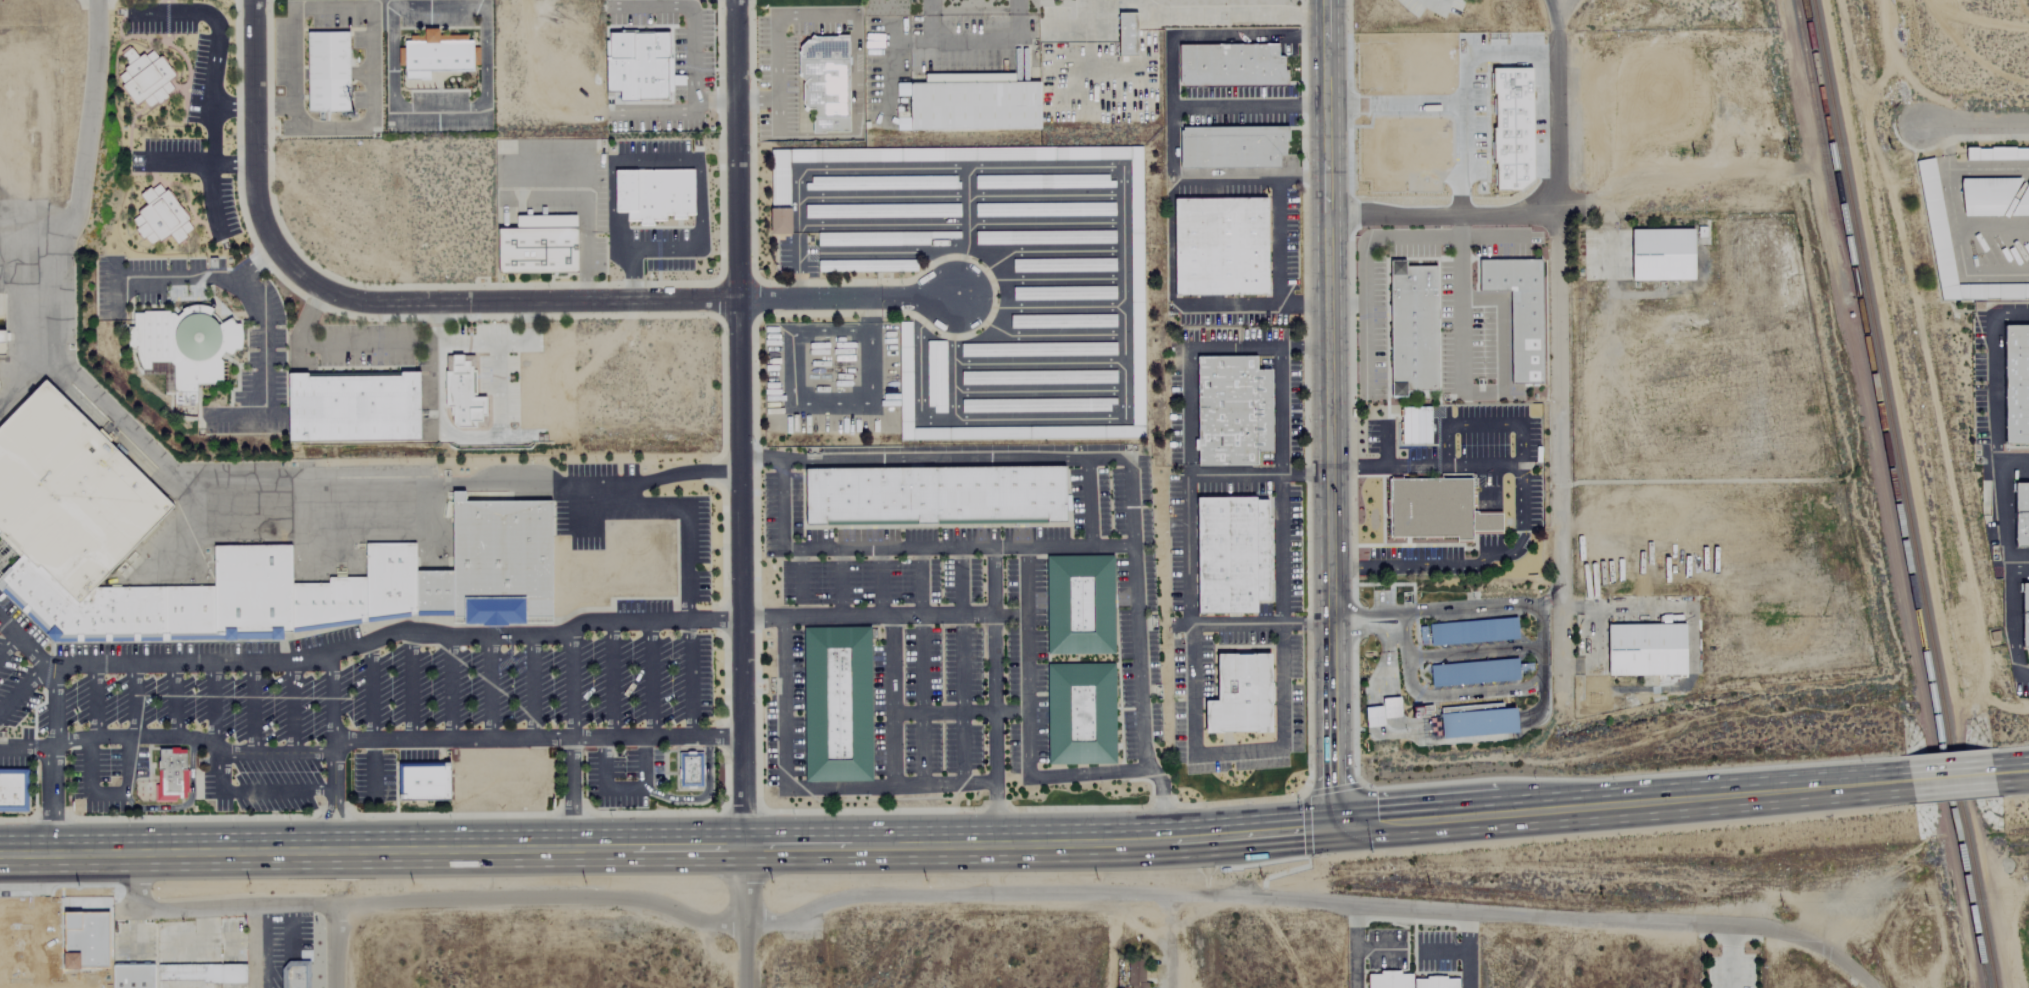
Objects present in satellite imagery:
power tower: (1530, 4)
road: (1437, 5)
road: (650, 6)
road: (1108, 8)
road: (1229, 15)
road: (1326, 19)
road: (293, 33)
building: (1126, 36)
road: (972, 44)
road: (776, 48)
building: (435, 55)
building: (639, 65)
building: (1229, 67)
building: (328, 71)
road: (691, 71)
road: (1326, 72)
road: (214, 74)
road: (1085, 76)
building: (145, 77)
building: (824, 83)
road: (1453, 100)
building: (970, 102)
road: (1169, 105)
road: (1248, 106)
road: (233, 108)
road: (657, 110)
road: (1973, 121)
building: (1506, 128)
building: (1231, 146)
road: (1943, 146)
road: (559, 148)
railway: (1821, 148)
building: (1997, 152)
building: (1043, 181)
building: (882, 182)
building: (654, 193)
building: (1986, 194)
building: (2022, 202)
building: (1044, 208)
building: (881, 210)
road: (1953, 213)
building: (159, 216)
road: (1440, 219)
building: (1935, 222)
road: (1459, 228)
building: (1044, 236)
building: (883, 237)
road: (1490, 238)
building: (538, 244)
building: (1220, 245)
road: (641, 252)
building: (1656, 255)
road: (270, 259)
building: (1063, 264)
building: (867, 265)
road: (182, 278)
building: (1135, 278)
road: (1278, 290)
building: (1063, 292)
road: (479, 299)
road: (1557, 299)
road: (1303, 305)
road: (1460, 306)
building: (1519, 312)
building: (1062, 320)
road: (261, 325)
building: (1412, 328)
building: (182, 344)
road: (464, 344)
road: (337, 348)
building: (1037, 348)
road: (1363, 349)
road: (1916, 352)
road: (1992, 367)
building: (0, 370)
building: (936, 376)
building: (1038, 376)
building: (2016, 383)
building: (463, 392)
building: (1038, 404)
building: (353, 407)
building: (1232, 410)
road: (738, 423)
building: (1416, 424)
road: (2012, 458)
road: (902, 459)
road: (1327, 467)
road: (1257, 474)
road: (193, 484)
building: (74, 493)
railway: (1893, 494)
railway: (1903, 494)
building: (934, 496)
building: (1435, 509)
road: (627, 510)
road: (1521, 510)
building: (2021, 515)
building: (1, 533)
road: (1066, 545)
building: (1231, 554)
road: (688, 565)
road: (2019, 570)
road: (2010, 574)
road: (994, 579)
road: (918, 580)
road: (841, 582)
road: (881, 582)
building: (322, 587)
building: (1079, 605)
road: (1443, 609)
road: (983, 613)
road: (1011, 615)
building: (2025, 615)
road: (1259, 625)
road: (1358, 630)
building: (1473, 632)
road: (394, 633)
building: (1422, 635)
road: (1562, 640)
road: (8, 643)
road: (27, 646)
building: (1646, 650)
parking lot: (18, 667)
road: (1542, 667)
building: (1474, 672)
road: (688, 678)
road: (648, 679)
road: (610, 680)
road: (568, 683)
road: (22, 687)
road: (410, 687)
road: (530, 688)
road: (448, 689)
road: (488, 689)
parking lot: (372, 690)
road: (370, 692)
building: (1240, 694)
road: (171, 700)
road: (330, 700)
building: (837, 703)
road: (213, 704)
road: (253, 708)
road: (291, 708)
road: (1392, 708)
road: (1011, 711)
building: (1081, 713)
building: (1378, 713)
road: (1028, 722)
building: (1477, 723)
road: (1192, 724)
road: (194, 739)
road: (508, 740)
road: (26, 747)
road: (50, 763)
road: (642, 764)
road: (372, 768)
building: (688, 770)
road: (2010, 772)
building: (171, 775)
road: (1950, 777)
building: (423, 778)
road: (601, 783)
road: (809, 787)
building: (13, 788)
road: (253, 791)
road: (106, 794)
road: (571, 794)
road: (702, 796)
road: (183, 805)
road: (1620, 805)
road: (338, 812)
road: (327, 814)
traffic signals: (1331, 829)
road: (336, 836)
road: (665, 847)
road: (1107, 894)
road: (210, 909)
road: (744, 917)
road: (2007, 934)
road: (1166, 941)
building: (54, 946)
road: (333, 946)
road: (1730, 956)
building: (208, 973)
building: (1135, 975)
building: (297, 977)
building: (125, 979)
building: (1405, 981)

